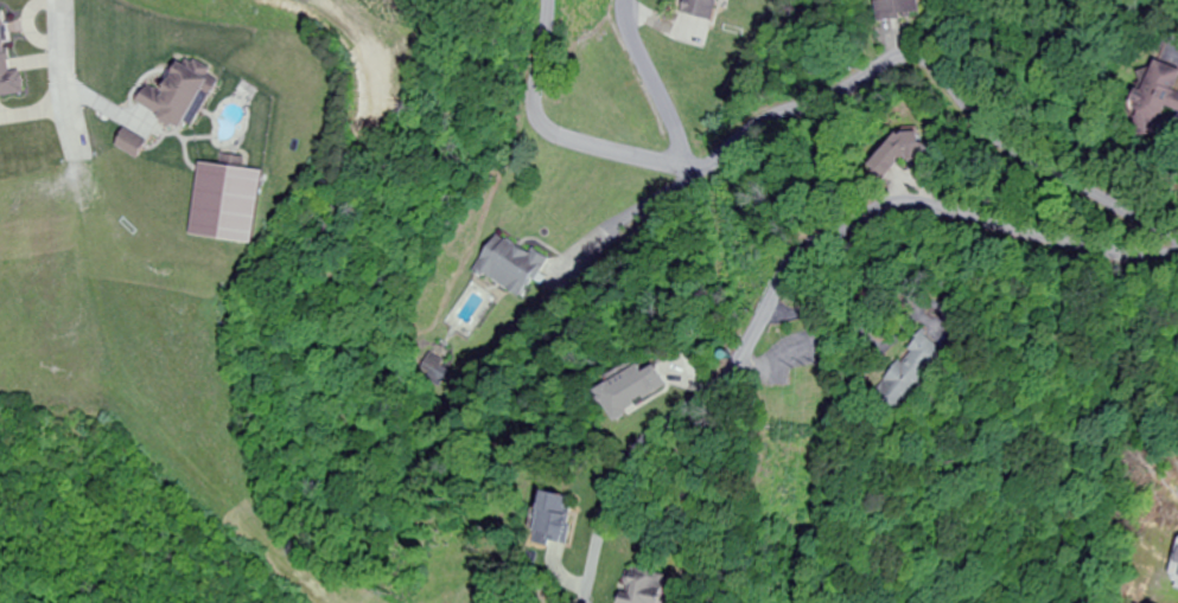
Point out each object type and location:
building: (705, 8)
building: (904, 9)
building: (7, 64)
road: (655, 81)
building: (182, 95)
building: (1157, 97)
building: (903, 153)
building: (229, 204)
road: (792, 204)
building: (511, 265)
road: (728, 367)
building: (928, 370)
power tower: (826, 379)
building: (650, 389)
building: (562, 517)
building: (655, 586)

